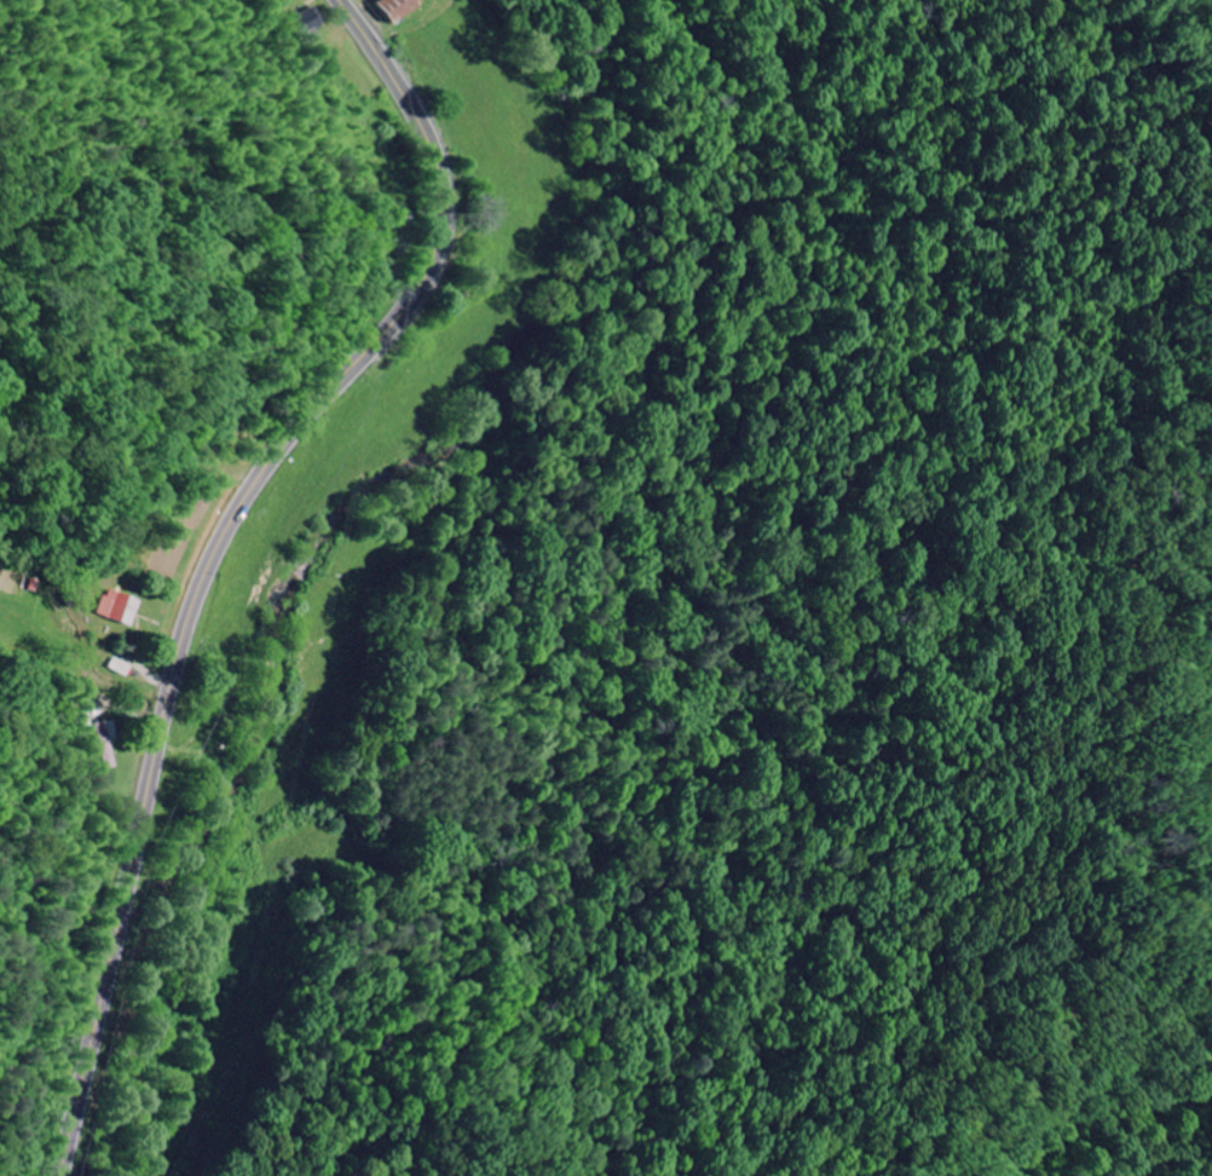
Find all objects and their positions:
building: (388, 8)
road: (219, 547)
building: (119, 610)
building: (119, 668)
road: (81, 684)
building: (103, 744)
road: (237, 1084)

